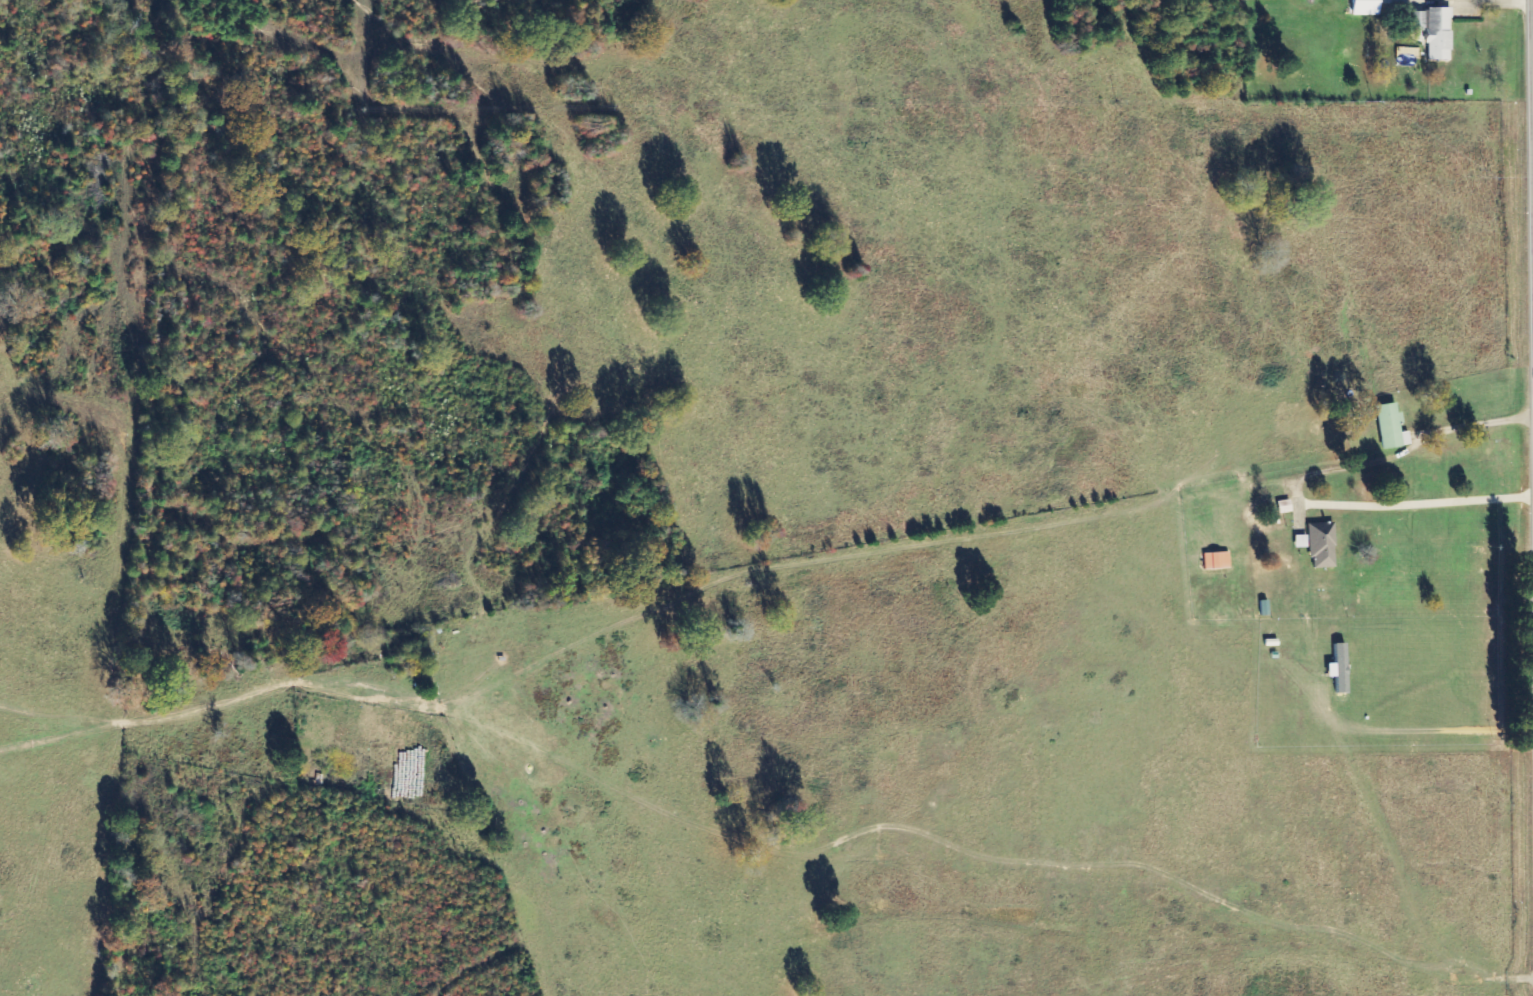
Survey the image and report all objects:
building: (1361, 7)
road: (1531, 27)
building: (1431, 31)
road: (1532, 103)
building: (1387, 426)
building: (1316, 545)
building: (1213, 561)

